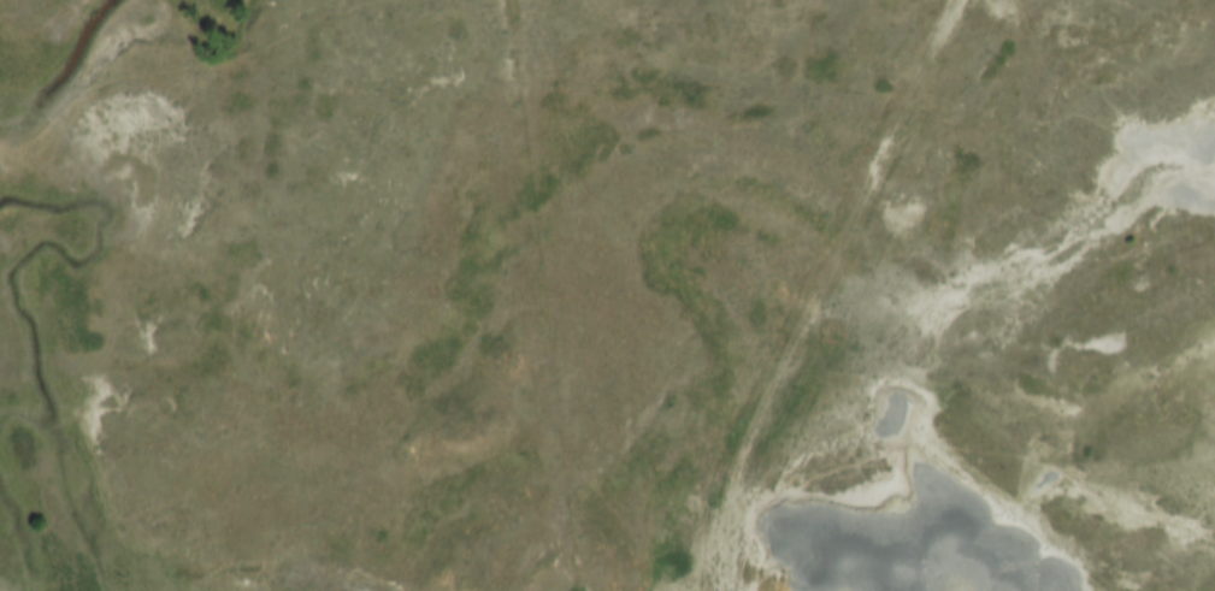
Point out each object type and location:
road: (824, 290)

